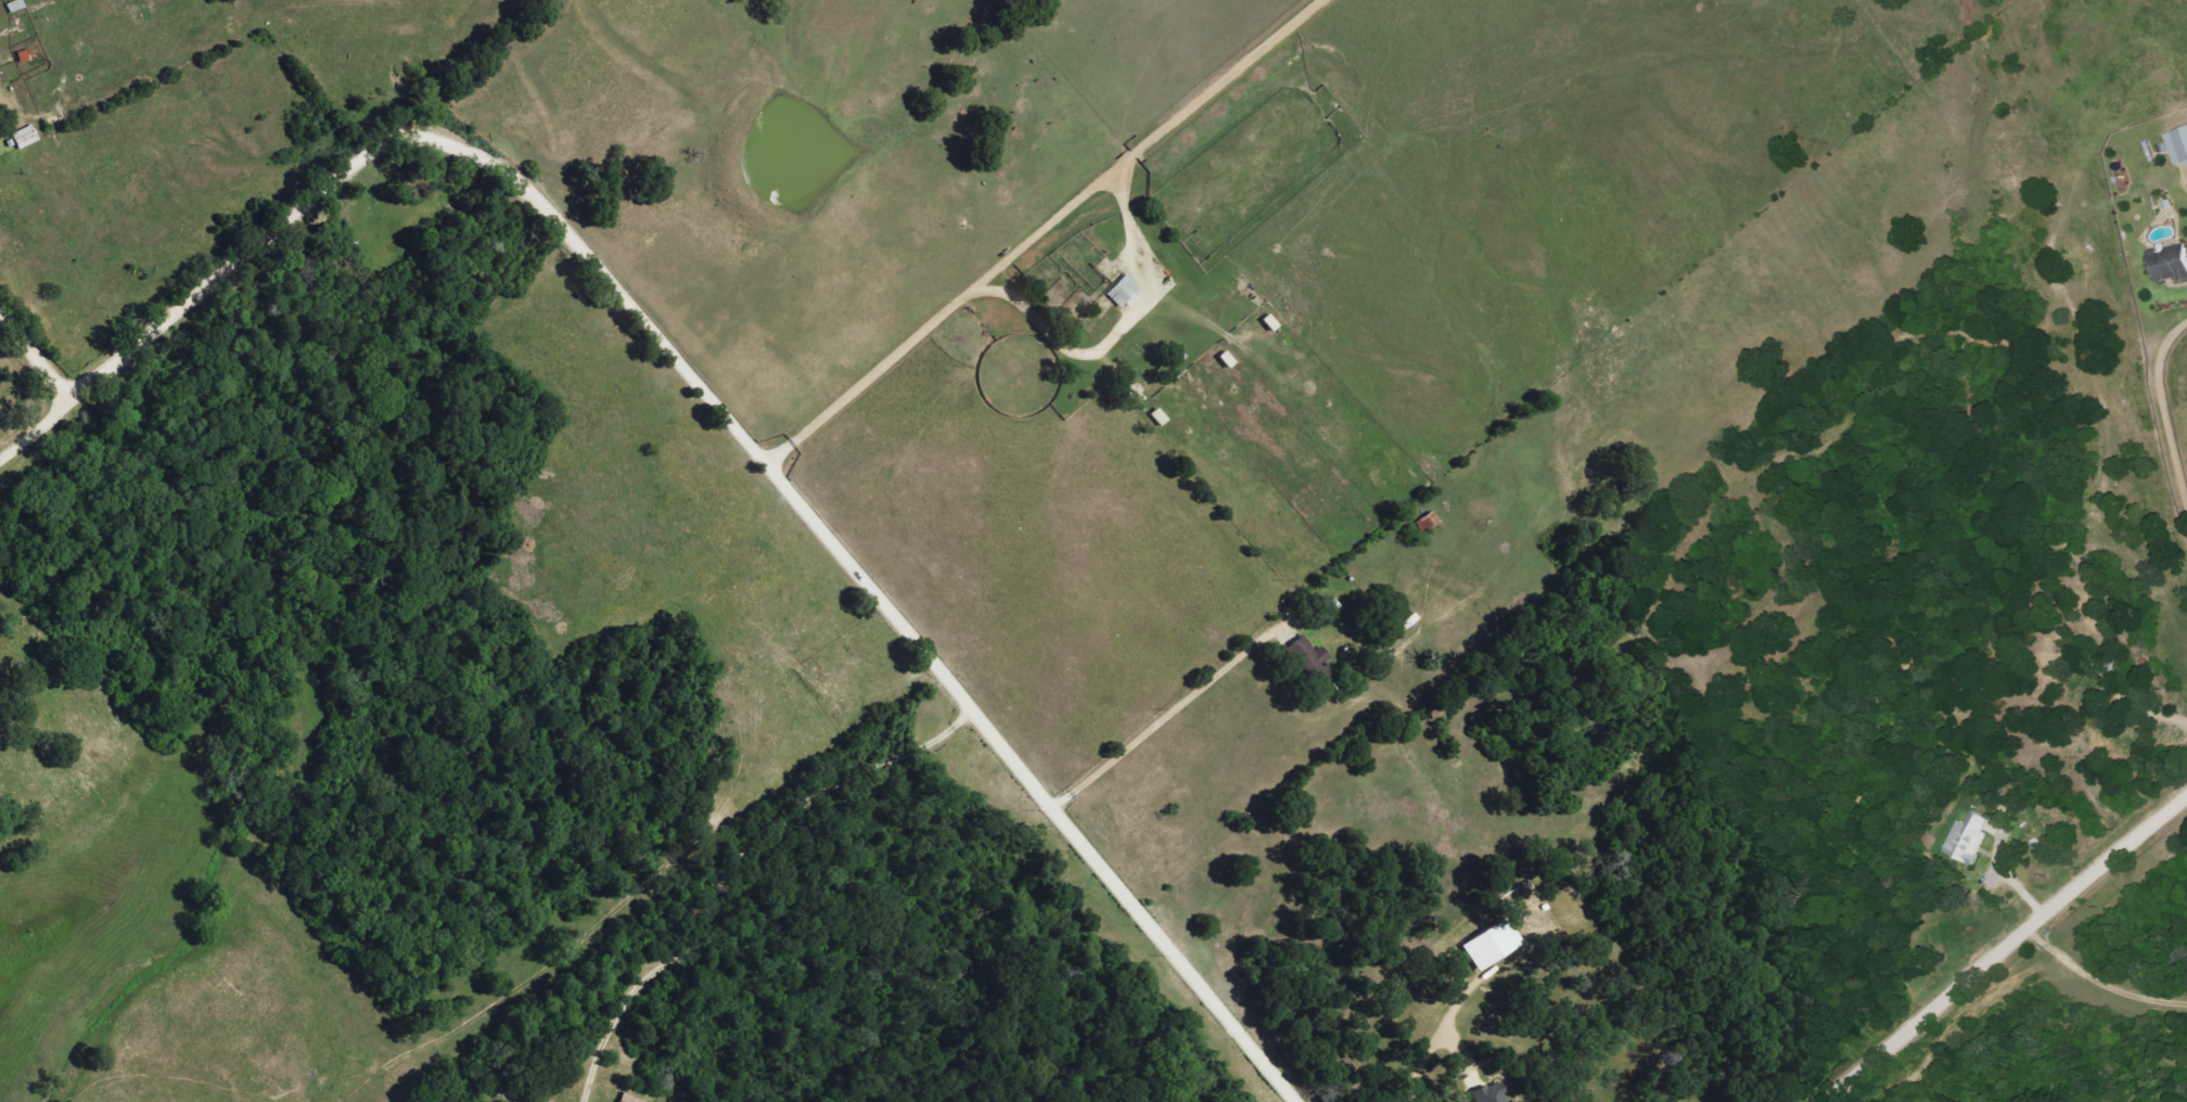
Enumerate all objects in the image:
road: (16, 100)
building: (2176, 144)
building: (2166, 264)
building: (1121, 292)
building: (1266, 323)
road: (922, 336)
road: (38, 351)
road: (2171, 405)
road: (737, 426)
road: (38, 432)
road: (1169, 719)
building: (1964, 840)
road: (758, 886)
building: (1487, 944)
road: (2004, 953)
road: (2103, 981)
building: (628, 1098)

